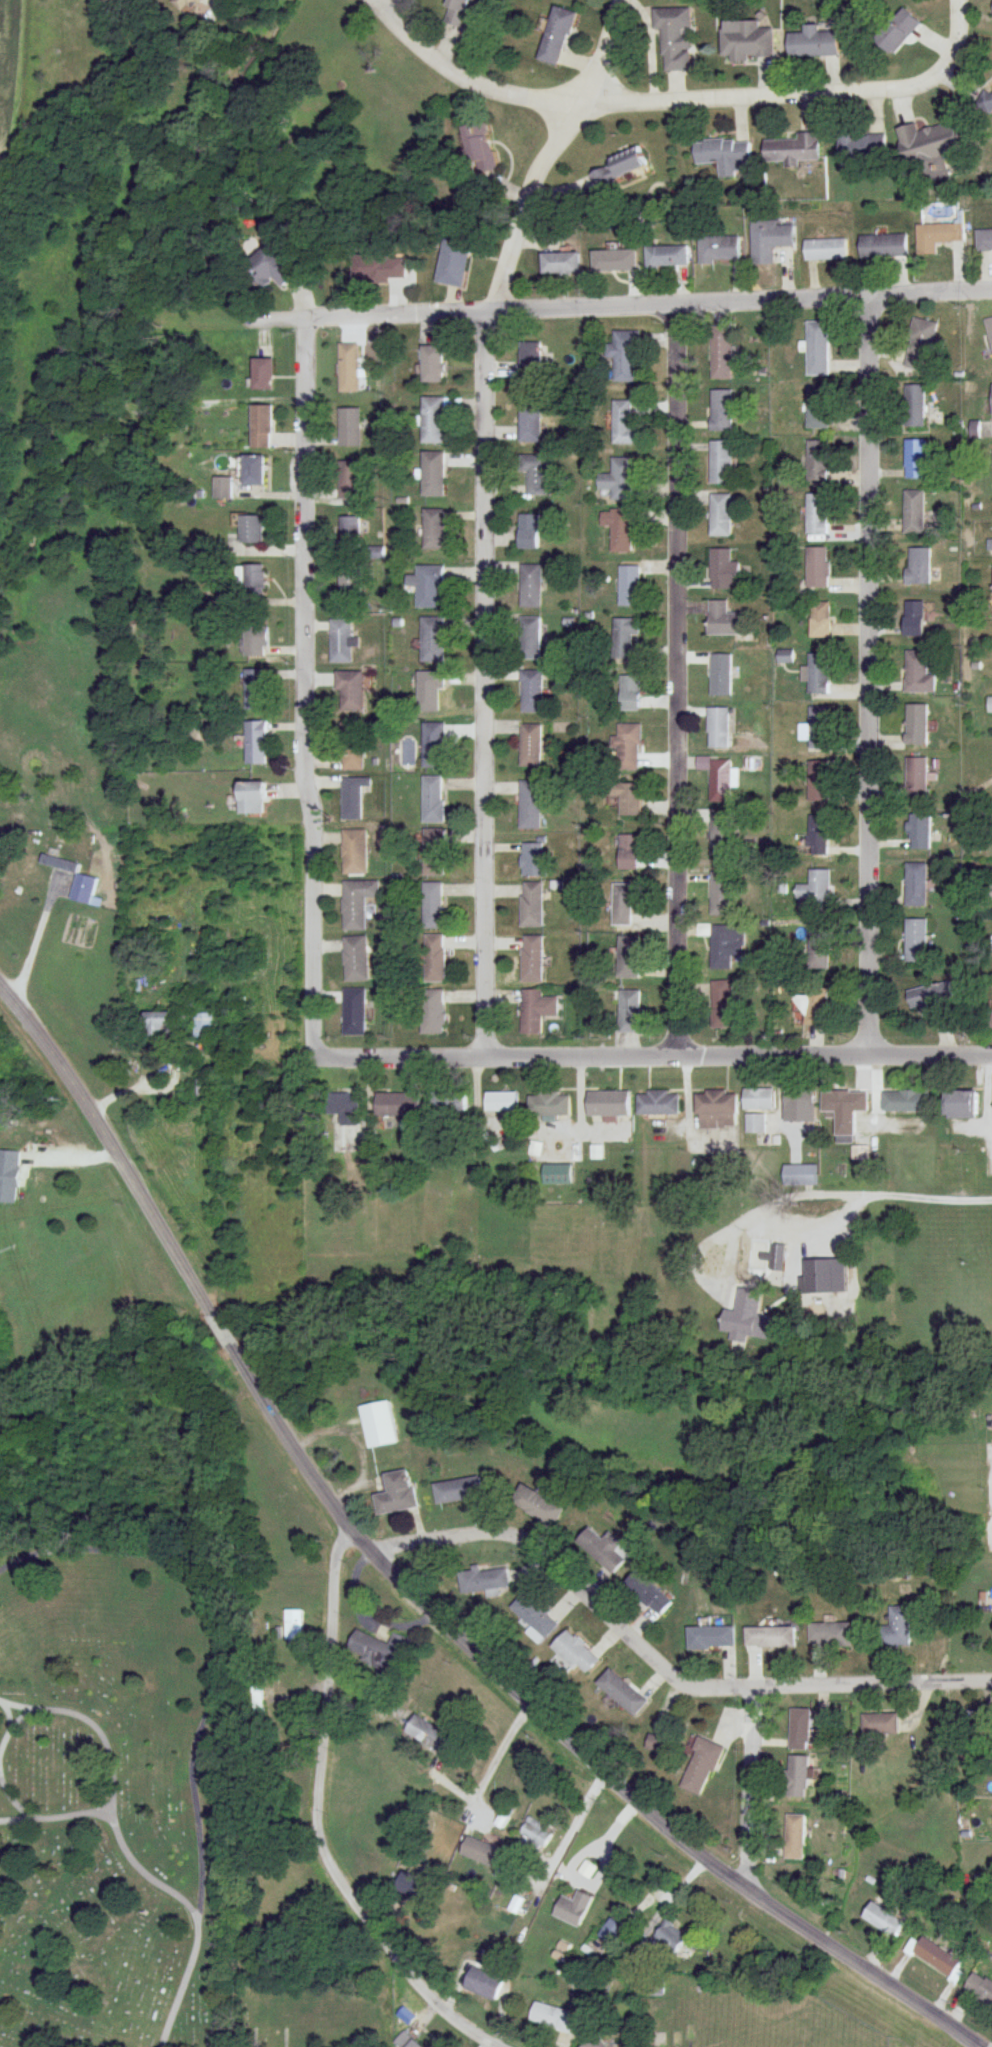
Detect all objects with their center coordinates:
road: (383, 2)
building: (455, 12)
building: (896, 32)
building: (556, 37)
building: (674, 38)
building: (743, 43)
building: (814, 44)
road: (952, 51)
crop: (11, 75)
road: (462, 78)
road: (745, 97)
building: (988, 105)
building: (932, 147)
building: (479, 148)
building: (861, 148)
road: (551, 151)
building: (791, 151)
building: (724, 156)
building: (617, 167)
building: (936, 237)
building: (984, 239)
building: (768, 240)
building: (882, 247)
building: (719, 248)
building: (825, 249)
building: (667, 255)
building: (613, 260)
building: (453, 261)
building: (560, 263)
building: (271, 267)
building: (378, 267)
road: (619, 305)
building: (989, 328)
building: (922, 345)
building: (817, 348)
building: (720, 353)
building: (624, 356)
building: (533, 359)
building: (432, 364)
building: (348, 368)
building: (261, 374)
building: (991, 398)
building: (915, 406)
building: (817, 408)
building: (721, 411)
building: (433, 420)
building: (623, 422)
building: (530, 423)
building: (261, 426)
building: (349, 427)
building: (974, 429)
building: (915, 459)
building: (819, 461)
building: (720, 463)
building: (253, 470)
building: (535, 473)
building: (433, 474)
building: (620, 479)
building: (349, 480)
building: (222, 488)
building: (914, 512)
building: (817, 514)
building: (720, 516)
building: (620, 527)
building: (433, 529)
building: (251, 530)
building: (351, 531)
building: (529, 531)
building: (989, 545)
building: (917, 566)
building: (817, 567)
building: (722, 570)
building: (254, 578)
building: (351, 582)
building: (428, 585)
building: (530, 586)
building: (629, 586)
building: (914, 618)
building: (723, 619)
building: (820, 619)
building: (530, 637)
building: (624, 637)
building: (433, 639)
building: (255, 640)
building: (341, 640)
building: (784, 656)
building: (918, 672)
building: (818, 673)
building: (720, 674)
road: (869, 674)
road: (678, 679)
road: (486, 682)
road: (305, 686)
building: (254, 689)
building: (430, 689)
building: (350, 690)
building: (532, 691)
building: (629, 693)
building: (989, 705)
building: (916, 723)
building: (717, 727)
building: (819, 727)
building: (256, 742)
building: (433, 744)
building: (531, 745)
building: (626, 747)
building: (353, 755)
building: (916, 777)
building: (717, 778)
building: (818, 781)
building: (250, 797)
building: (353, 797)
building: (624, 797)
building: (433, 799)
building: (530, 805)
building: (919, 831)
building: (719, 835)
building: (820, 835)
building: (354, 852)
building: (433, 852)
building: (628, 852)
building: (534, 859)
building: (33, 871)
building: (916, 885)
building: (82, 889)
building: (816, 889)
building: (720, 893)
building: (357, 903)
building: (624, 903)
building: (531, 905)
building: (432, 906)
building: (916, 941)
building: (726, 945)
building: (818, 945)
building: (628, 958)
building: (433, 959)
building: (531, 959)
building: (356, 960)
building: (718, 1004)
building: (932, 1004)
building: (813, 1006)
building: (535, 1011)
building: (628, 1011)
building: (431, 1012)
building: (354, 1013)
building: (155, 1024)
building: (203, 1025)
road: (653, 1056)
building: (758, 1099)
building: (844, 1101)
building: (905, 1101)
building: (500, 1102)
building: (448, 1103)
building: (607, 1103)
building: (657, 1103)
building: (396, 1104)
building: (548, 1104)
building: (799, 1104)
building: (960, 1104)
building: (347, 1110)
building: (716, 1110)
building: (755, 1123)
building: (556, 1174)
building: (8, 1176)
building: (799, 1176)
building: (705, 1249)
road: (177, 1251)
building: (770, 1262)
building: (747, 1325)
building: (378, 1425)
building: (458, 1491)
building: (396, 1494)
building: (537, 1506)
road: (360, 1537)
building: (605, 1551)
building: (483, 1583)
building: (648, 1593)
building: (535, 1618)
building: (897, 1626)
building: (293, 1628)
building: (828, 1636)
road: (213, 1638)
building: (711, 1638)
building: (769, 1638)
road: (329, 1648)
building: (379, 1649)
building: (575, 1653)
road: (661, 1664)
building: (622, 1692)
building: (254, 1700)
building: (879, 1725)
road: (92, 1726)
building: (798, 1730)
road: (10, 1731)
building: (428, 1736)
building: (657, 1743)
building: (700, 1768)
building: (795, 1778)
road: (752, 1788)
road: (15, 1820)
park: (152, 1820)
road: (656, 1821)
building: (536, 1832)
building: (794, 1837)
building: (481, 1853)
building: (586, 1870)
road: (145, 1875)
building: (411, 1887)
building: (516, 1906)
building: (572, 1909)
building: (882, 1920)
road: (376, 1929)
building: (611, 1933)
building: (667, 1942)
building: (935, 1958)
building: (483, 1984)
building: (979, 1990)
building: (554, 2018)
park: (777, 2031)
building: (405, 2041)
building: (595, 2043)

